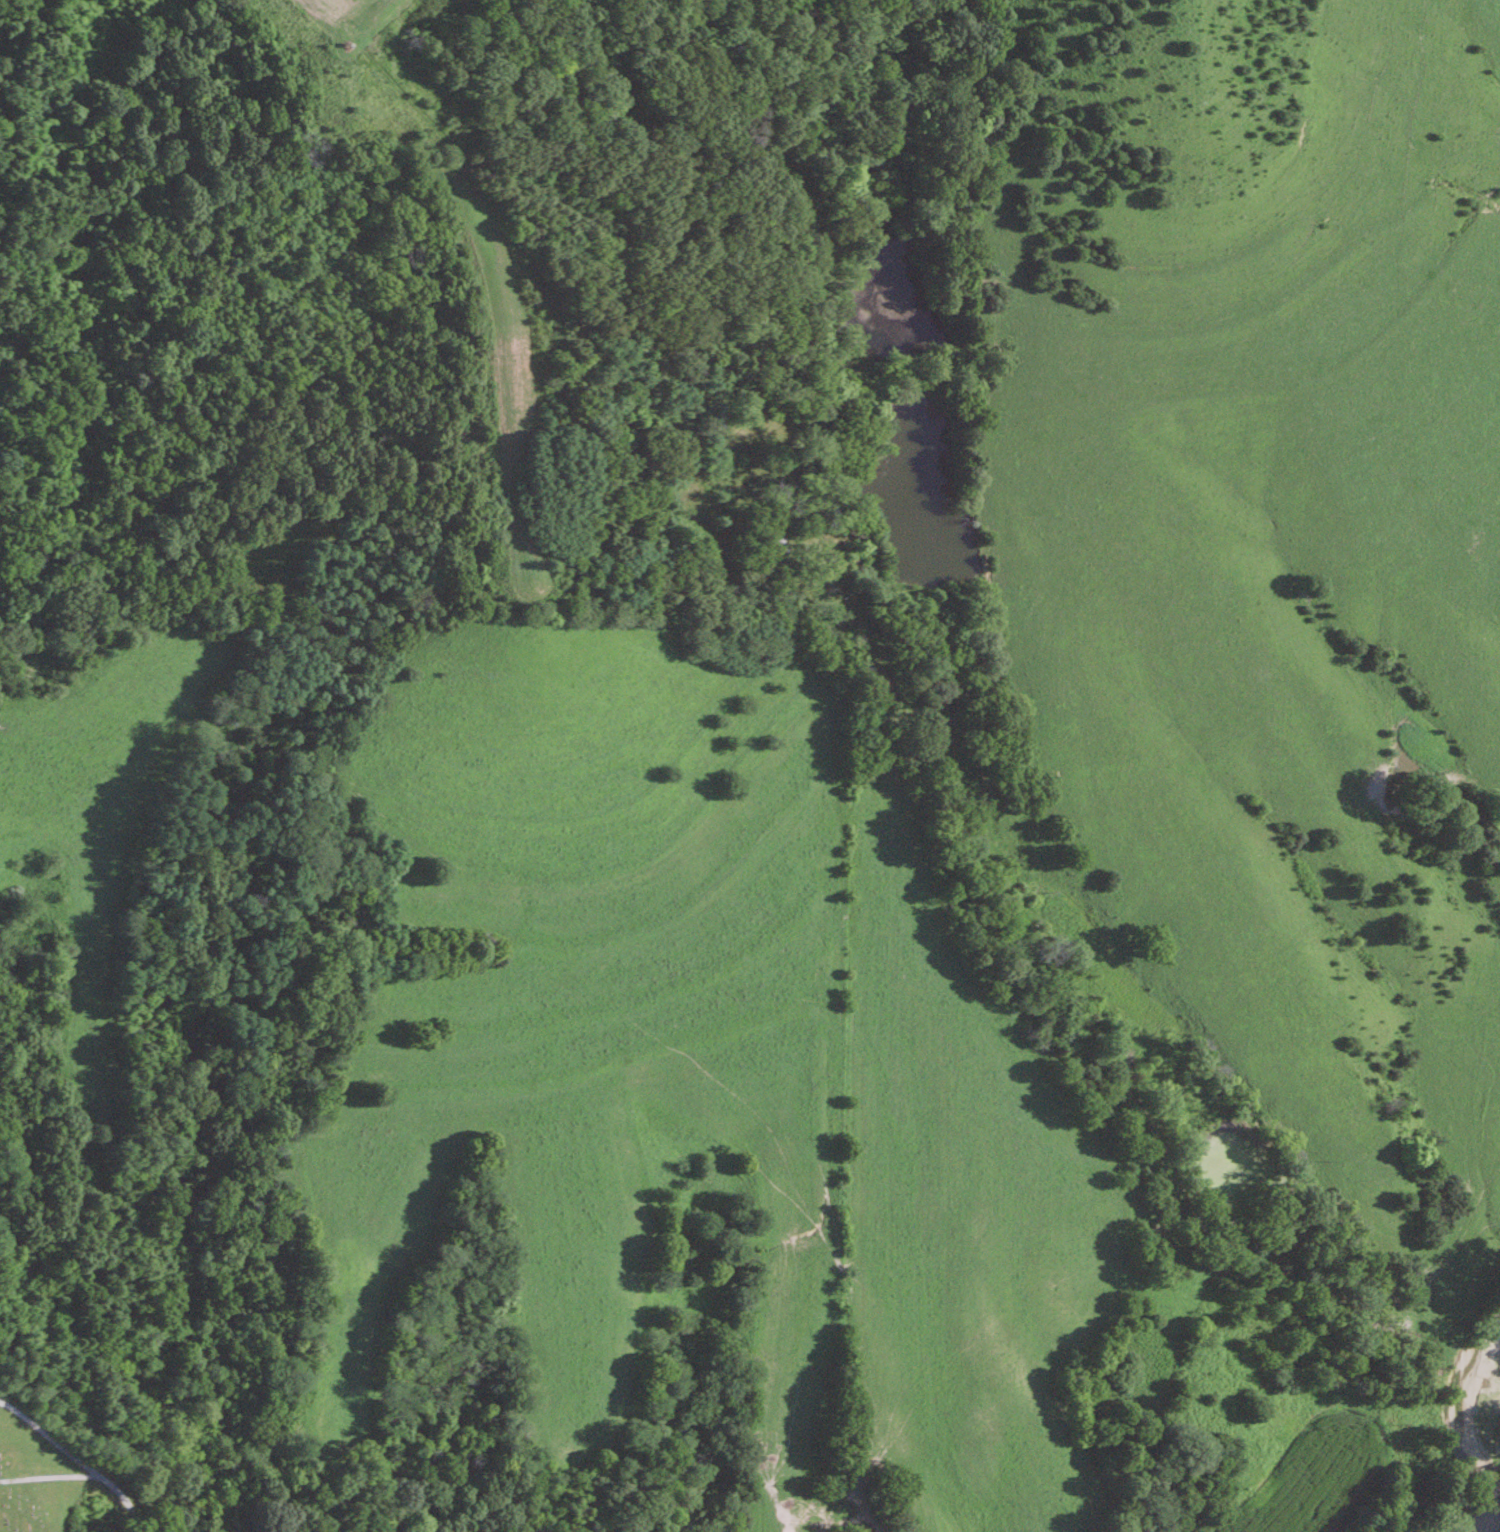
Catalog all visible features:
building: (781, 536)
building: (852, 554)
road: (79, 1458)
park: (39, 1477)

